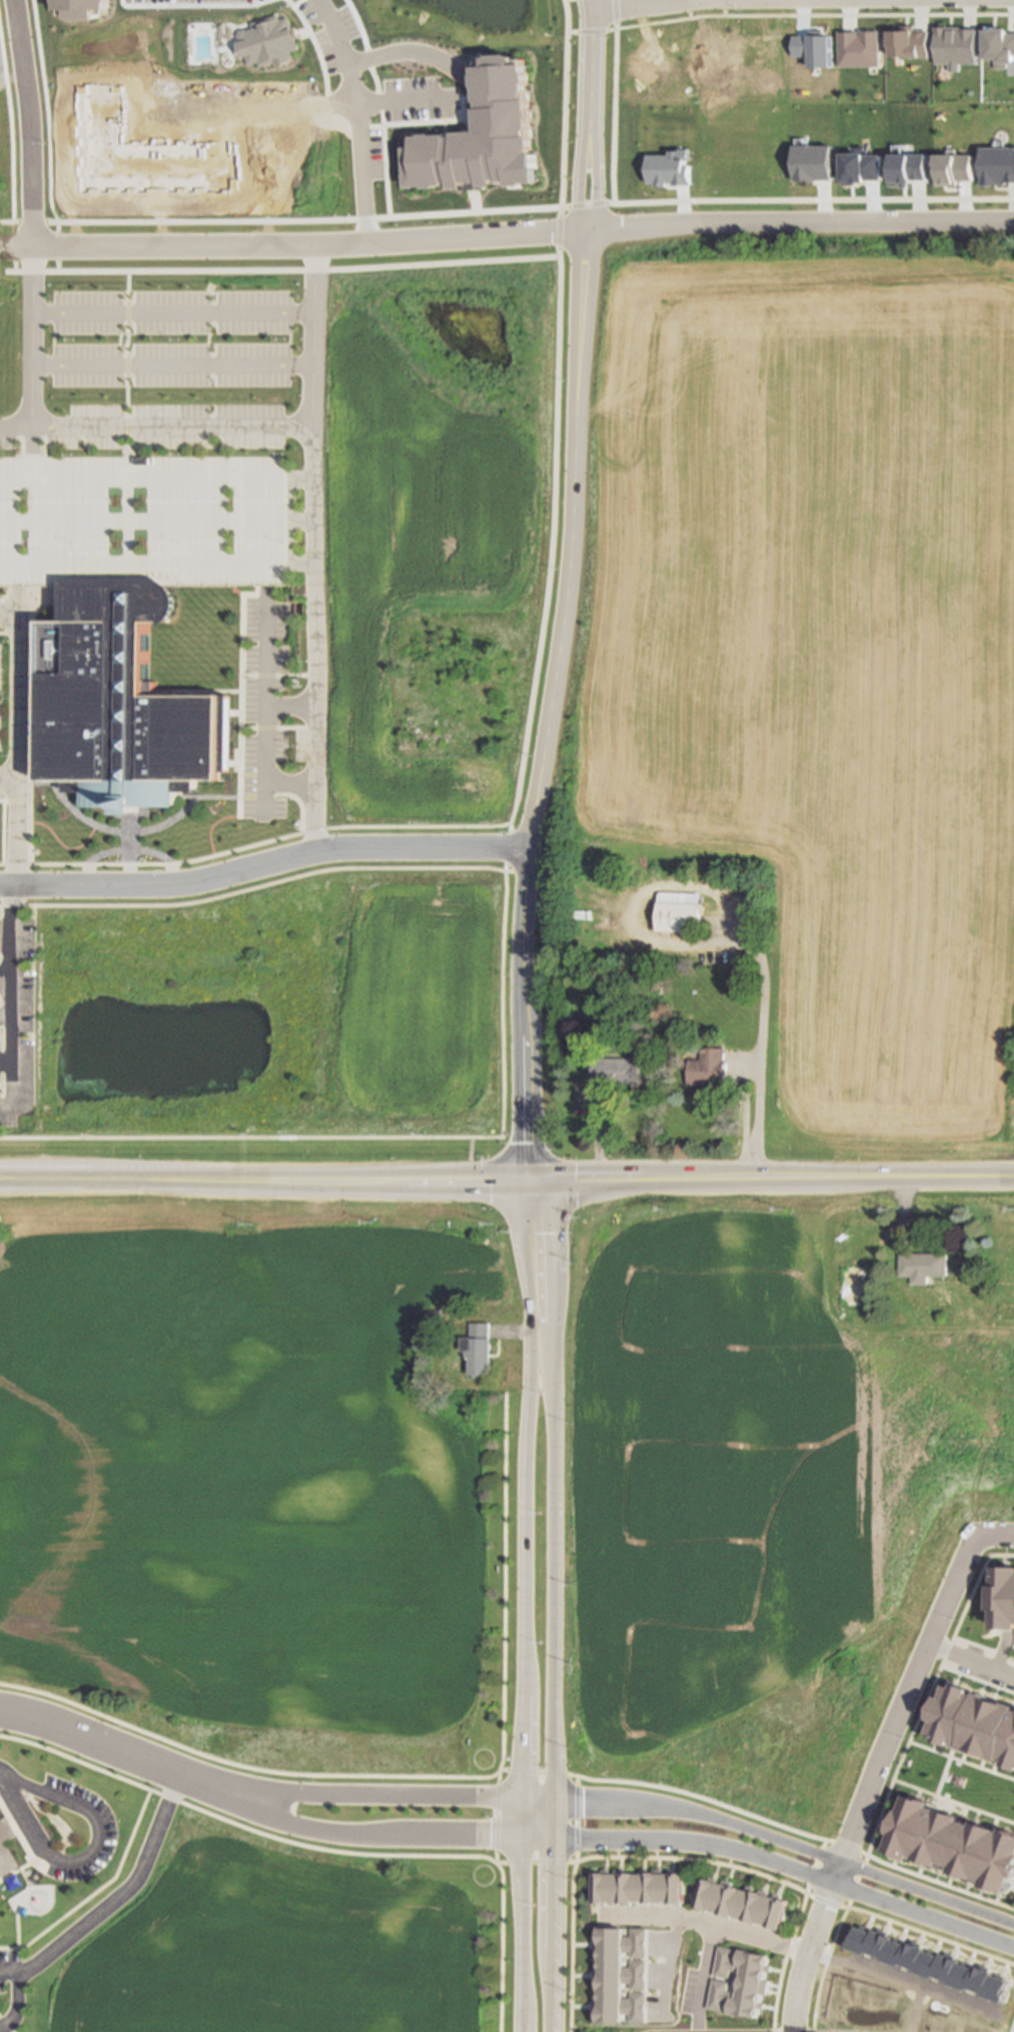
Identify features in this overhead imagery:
road: (641, 6)
building: (86, 9)
building: (272, 43)
road: (592, 50)
road: (418, 52)
road: (409, 102)
road: (363, 116)
road: (31, 123)
building: (486, 138)
building: (812, 162)
road: (578, 165)
building: (997, 165)
road: (596, 168)
building: (669, 168)
building: (859, 168)
building: (906, 169)
building: (954, 169)
road: (798, 221)
road: (299, 245)
road: (559, 266)
road: (173, 311)
parking lot: (173, 312)
road: (31, 337)
road: (314, 341)
parking lot: (172, 364)
road: (172, 364)
road: (143, 427)
parking lot: (147, 427)
road: (127, 428)
road: (157, 479)
building: (141, 521)
parking garage: (141, 521)
road: (156, 521)
road: (128, 532)
road: (567, 542)
road: (157, 566)
road: (13, 601)
road: (6, 619)
road: (314, 631)
road: (13, 635)
crop: (820, 658)
road: (276, 676)
road: (238, 696)
road: (263, 701)
building: (118, 705)
road: (288, 708)
parking lot: (262, 709)
road: (276, 728)
road: (26, 733)
road: (13, 735)
road: (7, 780)
road: (287, 782)
road: (252, 796)
road: (101, 826)
road: (0, 833)
road: (128, 849)
road: (127, 850)
road: (260, 865)
road: (251, 888)
building: (679, 913)
road: (498, 976)
road: (6, 979)
road: (13, 996)
road: (523, 1013)
road: (6, 1016)
parking lot: (16, 1021)
road: (6, 1064)
road: (757, 1066)
building: (710, 1069)
building: (617, 1072)
road: (7, 1107)
road: (506, 1178)
traffic signals: (525, 1178)
road: (1012, 1193)
road: (1013, 1207)
building: (925, 1267)
building: (855, 1287)
building: (436, 1314)
building: (478, 1350)
road: (1011, 1370)
road: (527, 1489)
road: (998, 1530)
road: (502, 1581)
building: (1004, 1600)
road: (553, 1602)
road: (970, 1655)
building: (975, 1729)
road: (112, 1744)
road: (243, 1767)
road: (533, 1774)
road: (870, 1775)
road: (22, 1782)
road: (369, 1803)
road: (536, 1804)
road: (494, 1815)
road: (23, 1816)
road: (574, 1820)
parking lot: (60, 1822)
road: (240, 1827)
road: (99, 1830)
road: (794, 1832)
road: (620, 1843)
road: (788, 1845)
building: (7, 1847)
building: (954, 1849)
road: (694, 1860)
road: (531, 1862)
road: (813, 1867)
road: (855, 1882)
building: (641, 1887)
road: (96, 1891)
road: (124, 1892)
building: (745, 1903)
road: (830, 1904)
road: (518, 1917)
parking lot: (76, 1926)
road: (714, 1935)
road: (931, 1937)
road: (499, 1946)
road: (571, 1947)
road: (804, 1949)
road: (783, 1962)
road: (667, 1966)
road: (825, 1968)
road: (9, 1970)
building: (620, 1973)
building: (737, 1979)
road: (18, 2002)
road: (914, 2009)

